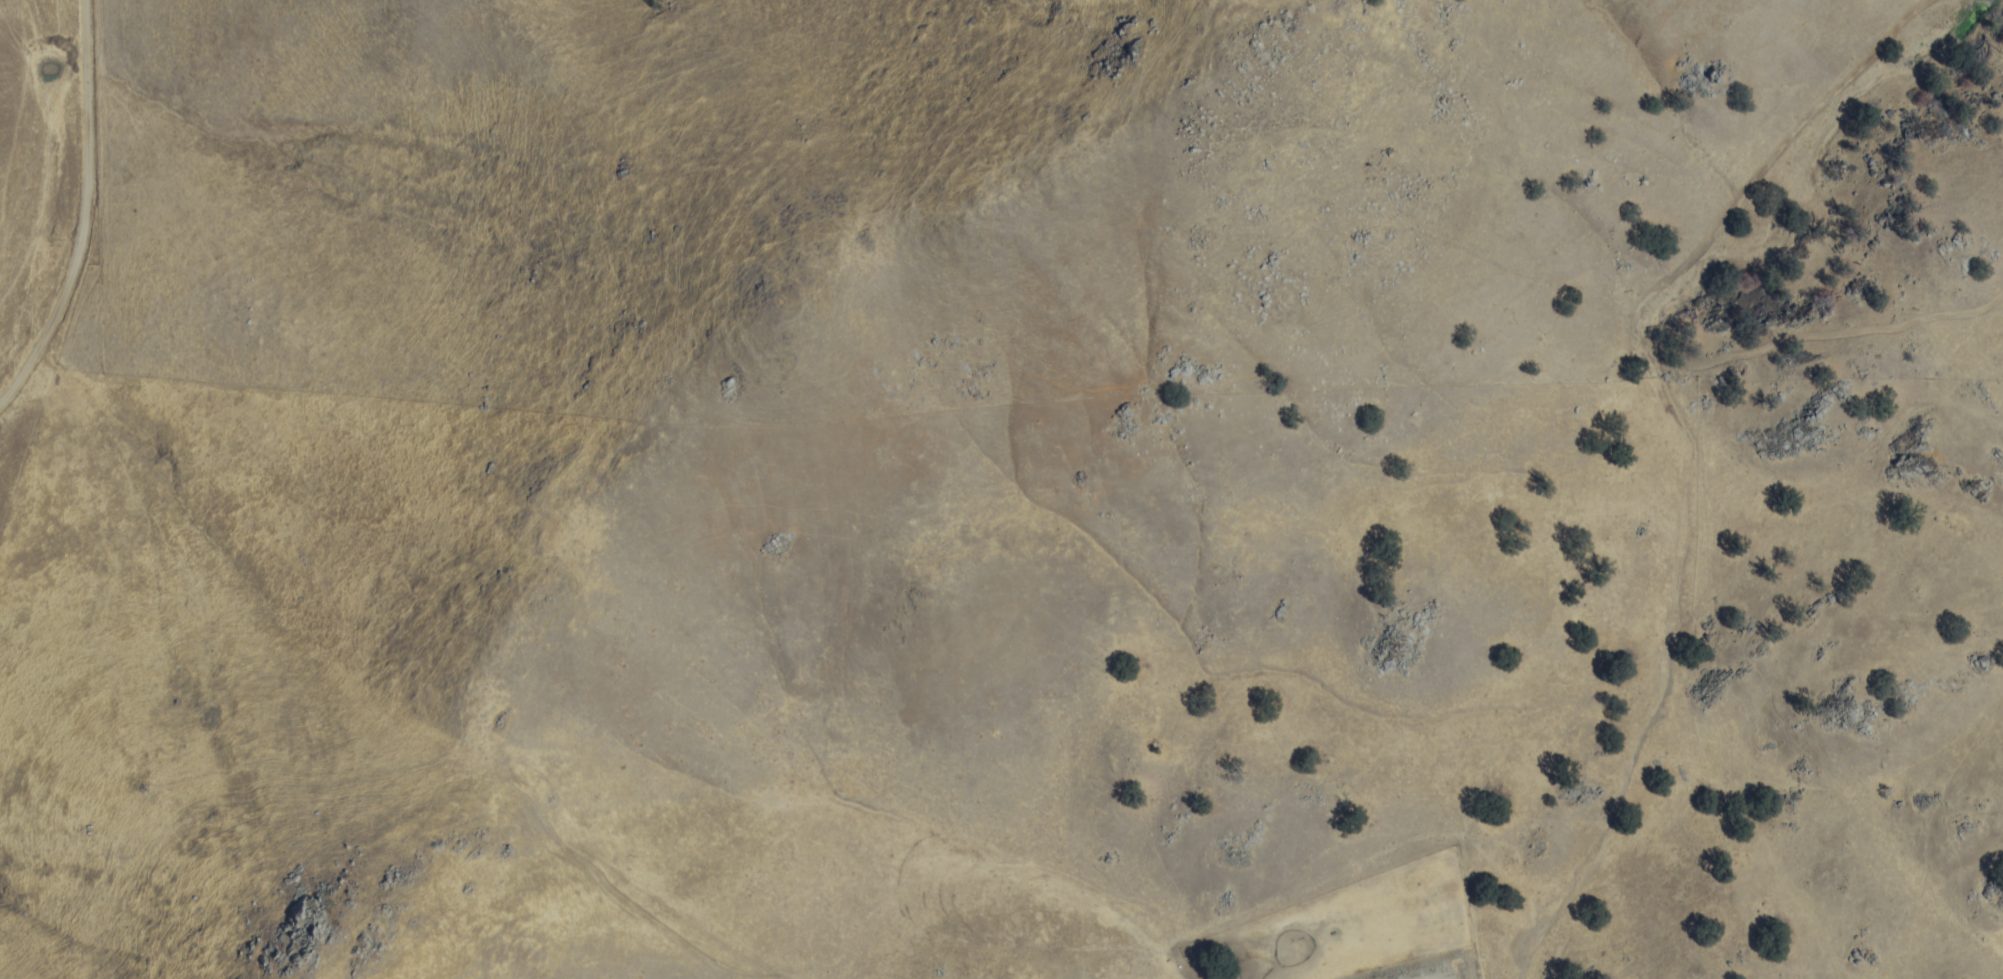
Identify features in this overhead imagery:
road: (92, 216)

